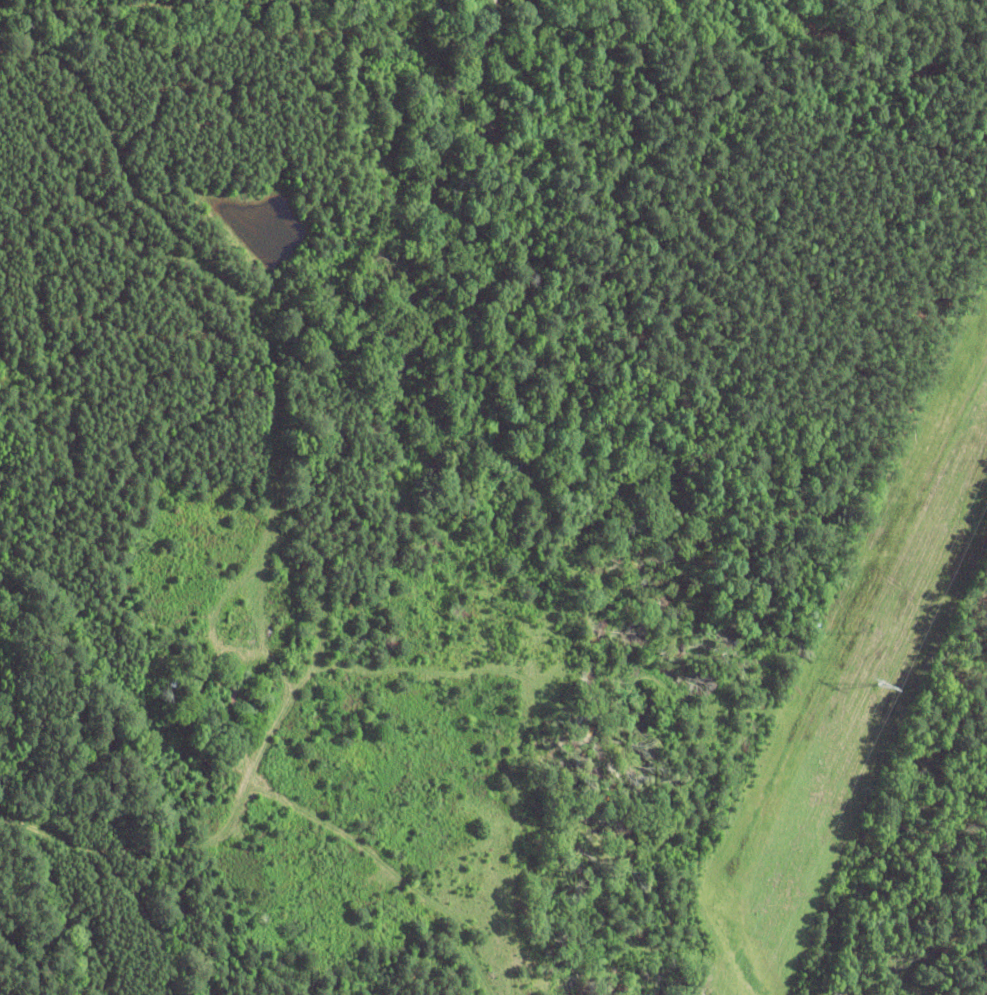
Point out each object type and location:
power tower: (878, 683)

